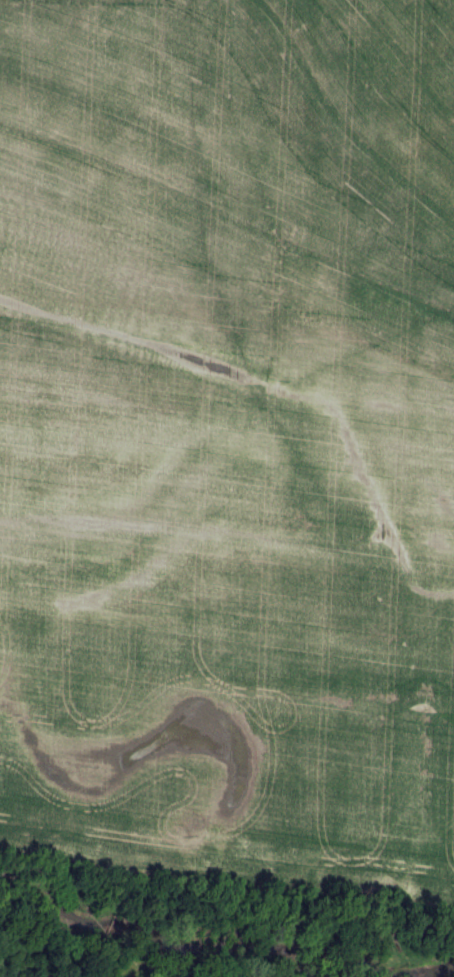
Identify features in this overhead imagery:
river: (220, 944)

